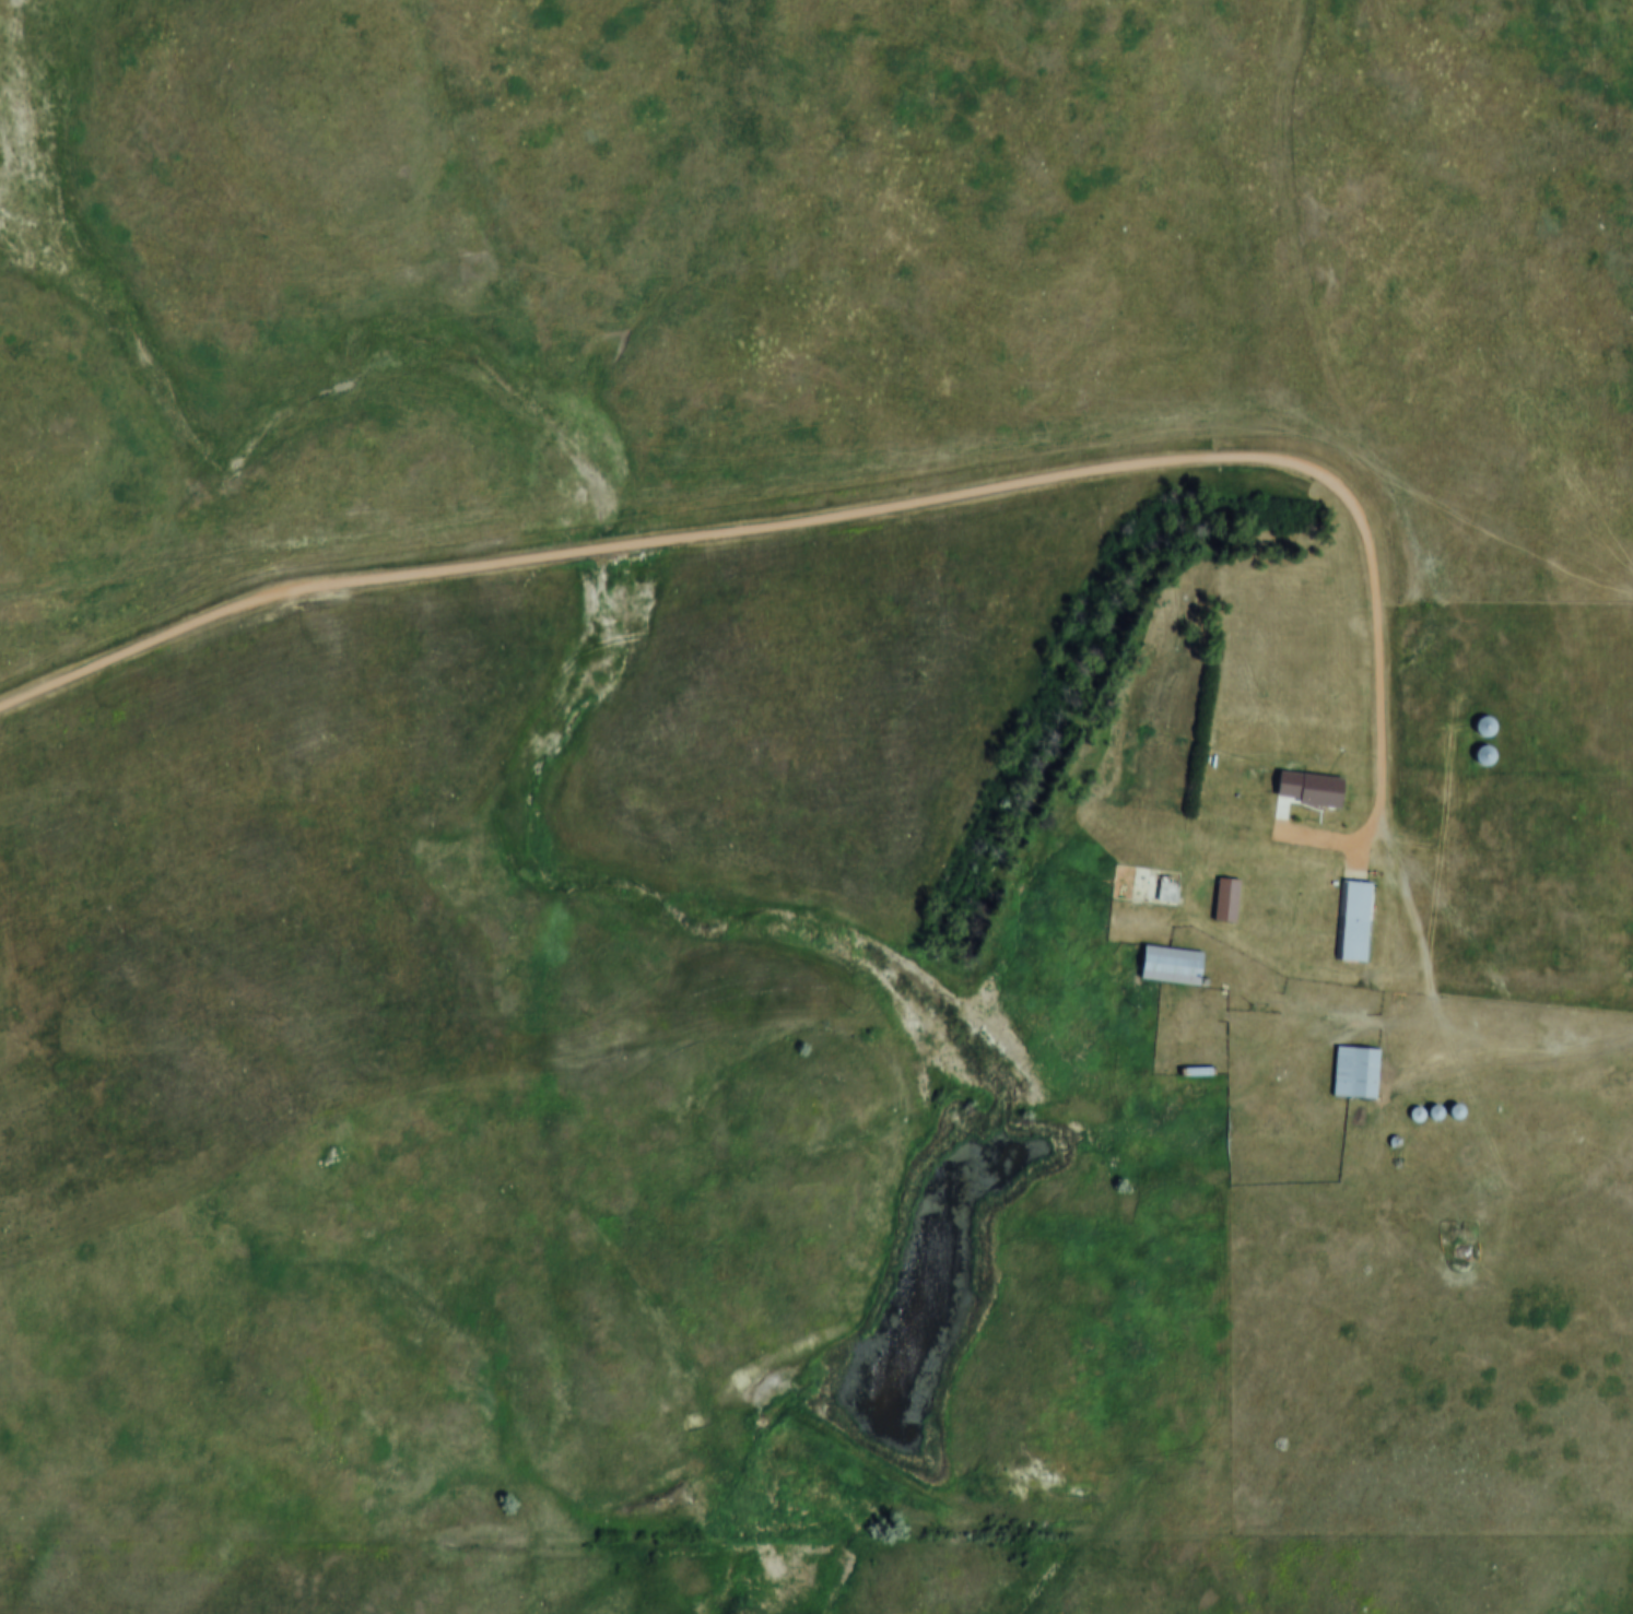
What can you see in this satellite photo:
road: (832, 516)
building: (1483, 726)
building: (1483, 755)
building: (1312, 788)
building: (1148, 885)
building: (1227, 898)
building: (1358, 921)
building: (1173, 965)
road: (1444, 1011)
building: (1358, 1071)
building: (1456, 1110)

